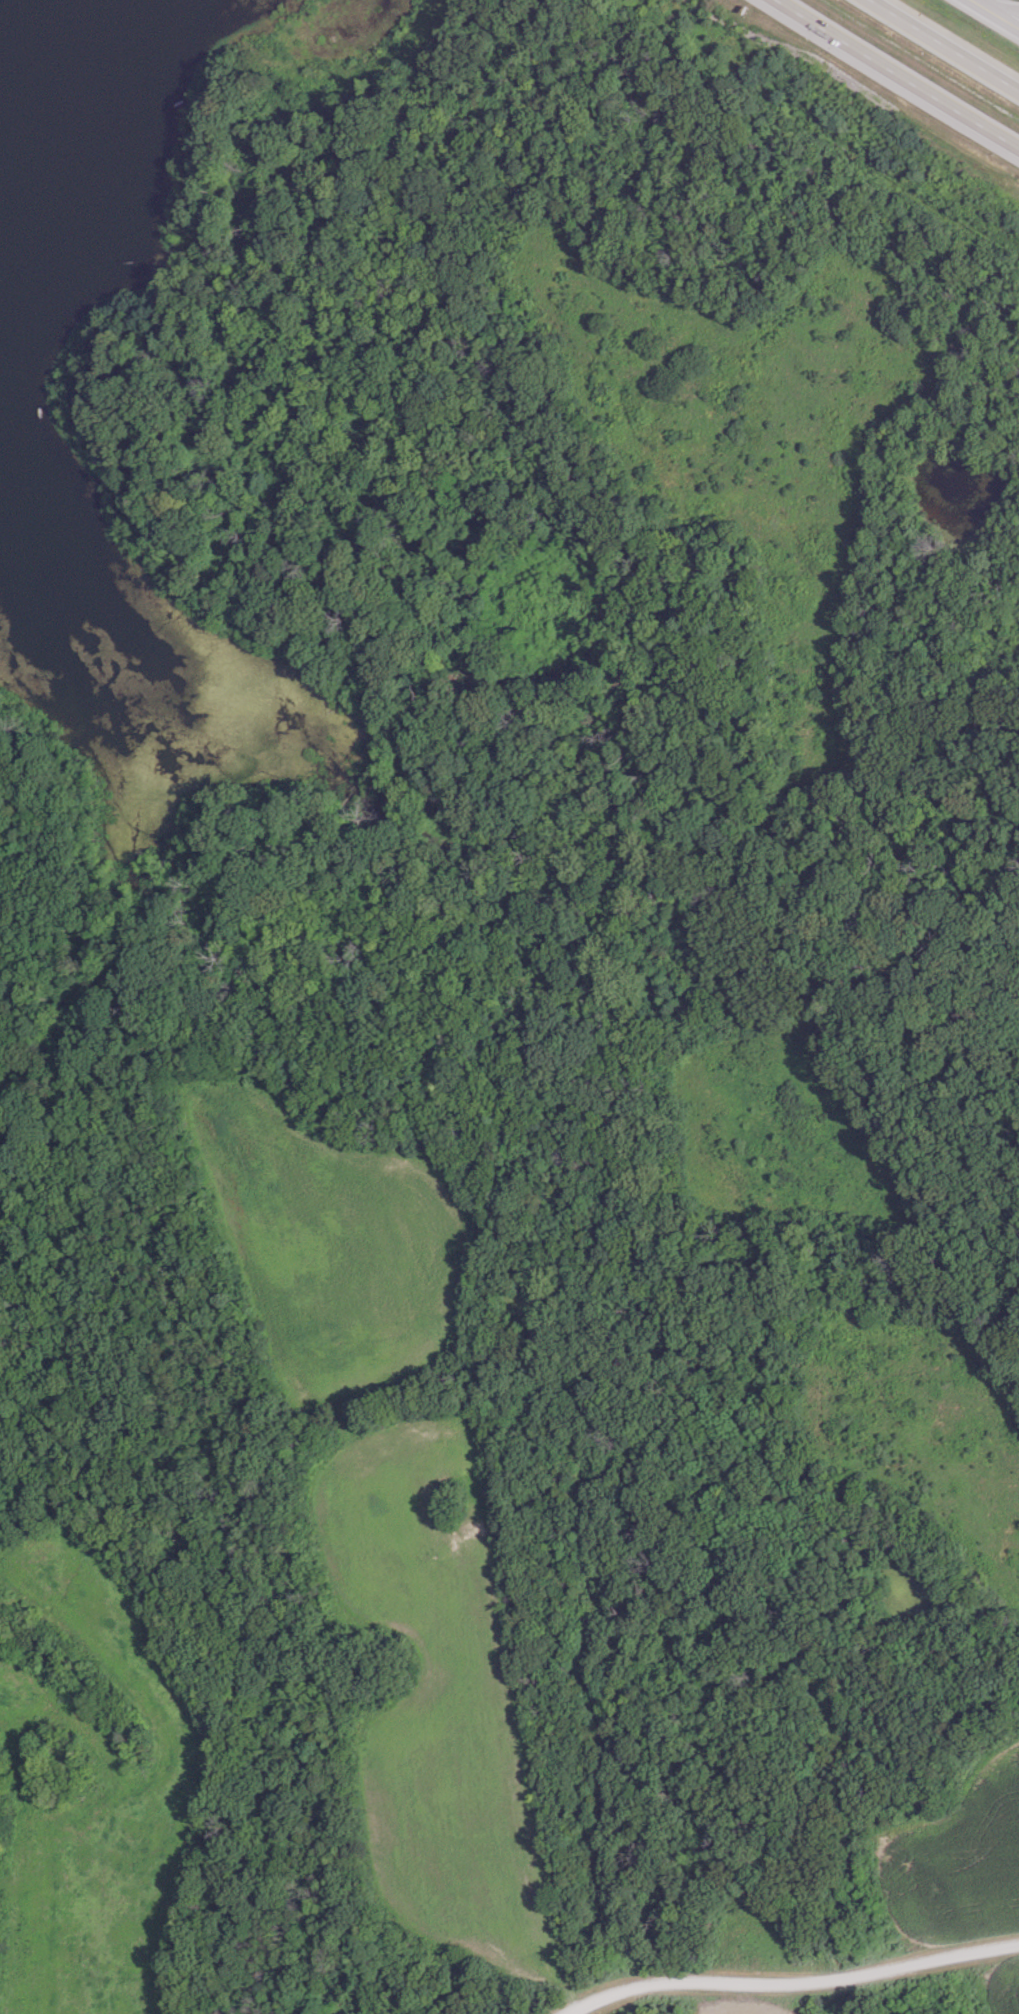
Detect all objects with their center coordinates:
road: (1002, 8)
road: (995, 14)
road: (944, 45)
road: (897, 74)
road: (790, 1984)

